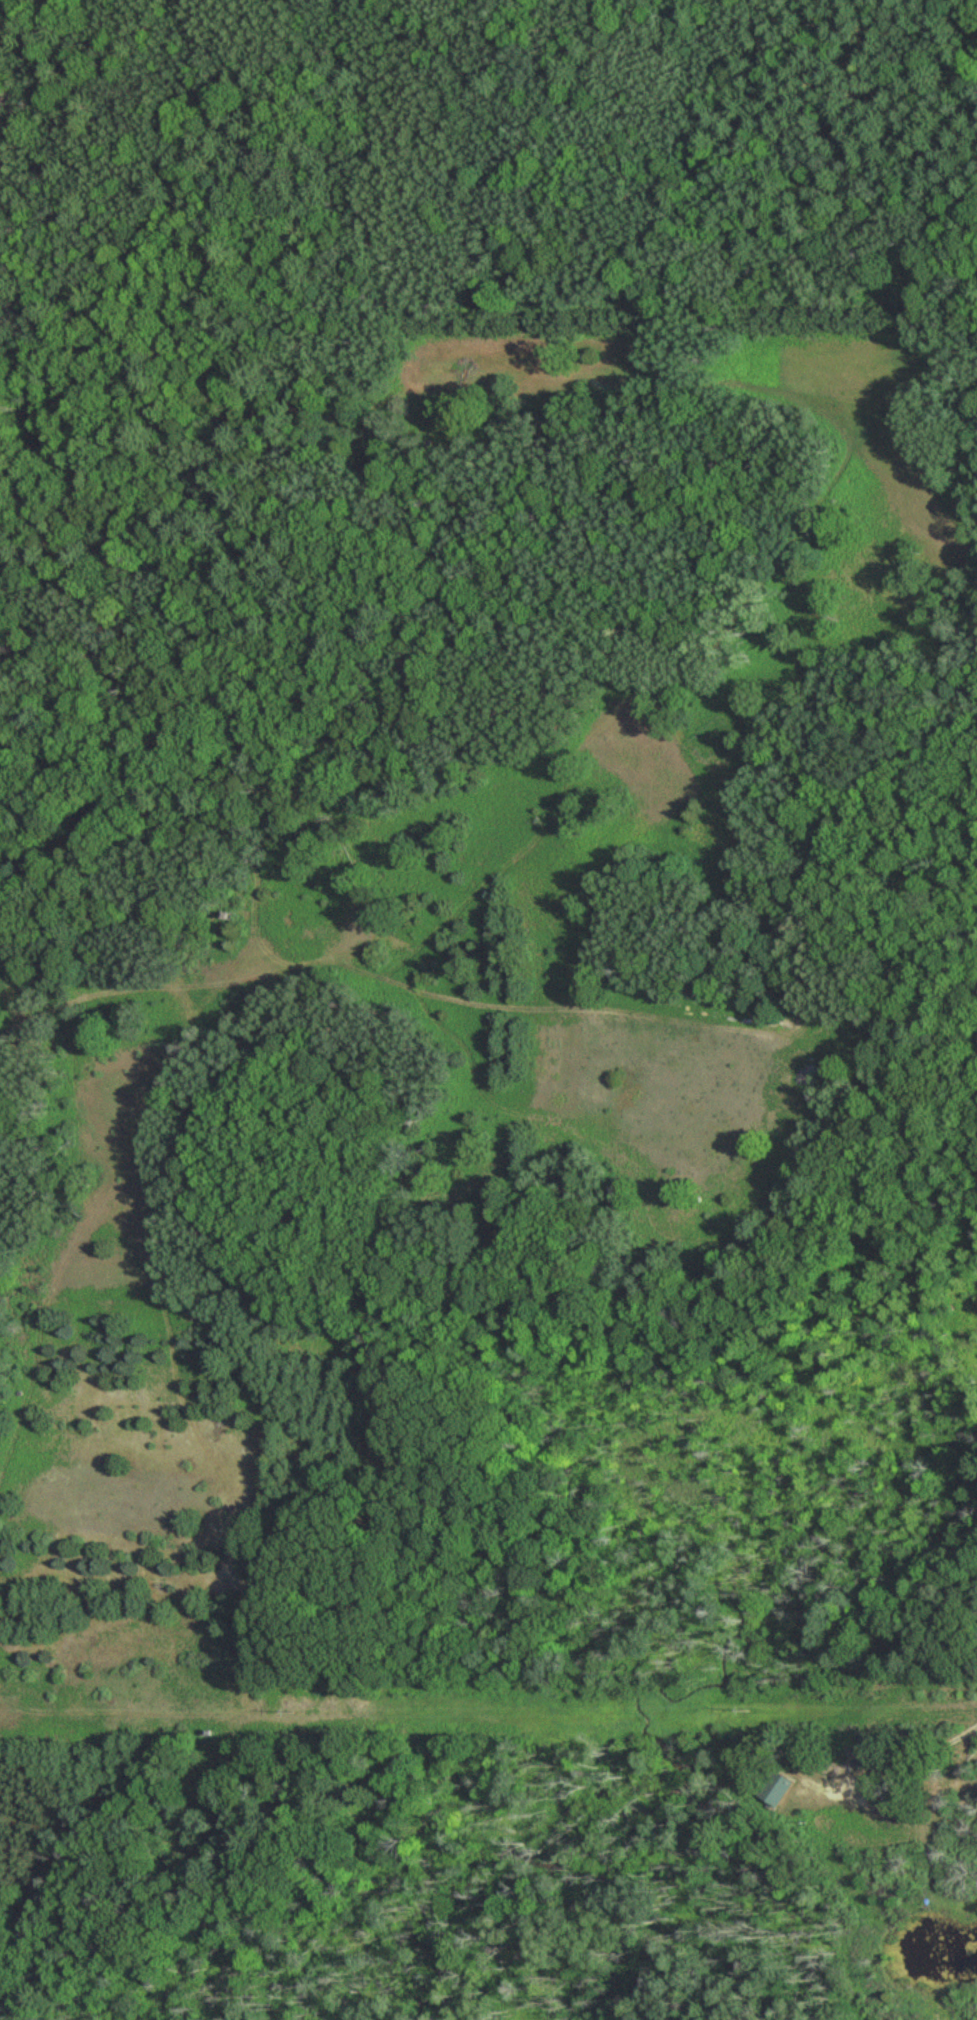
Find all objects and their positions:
building: (776, 1789)

